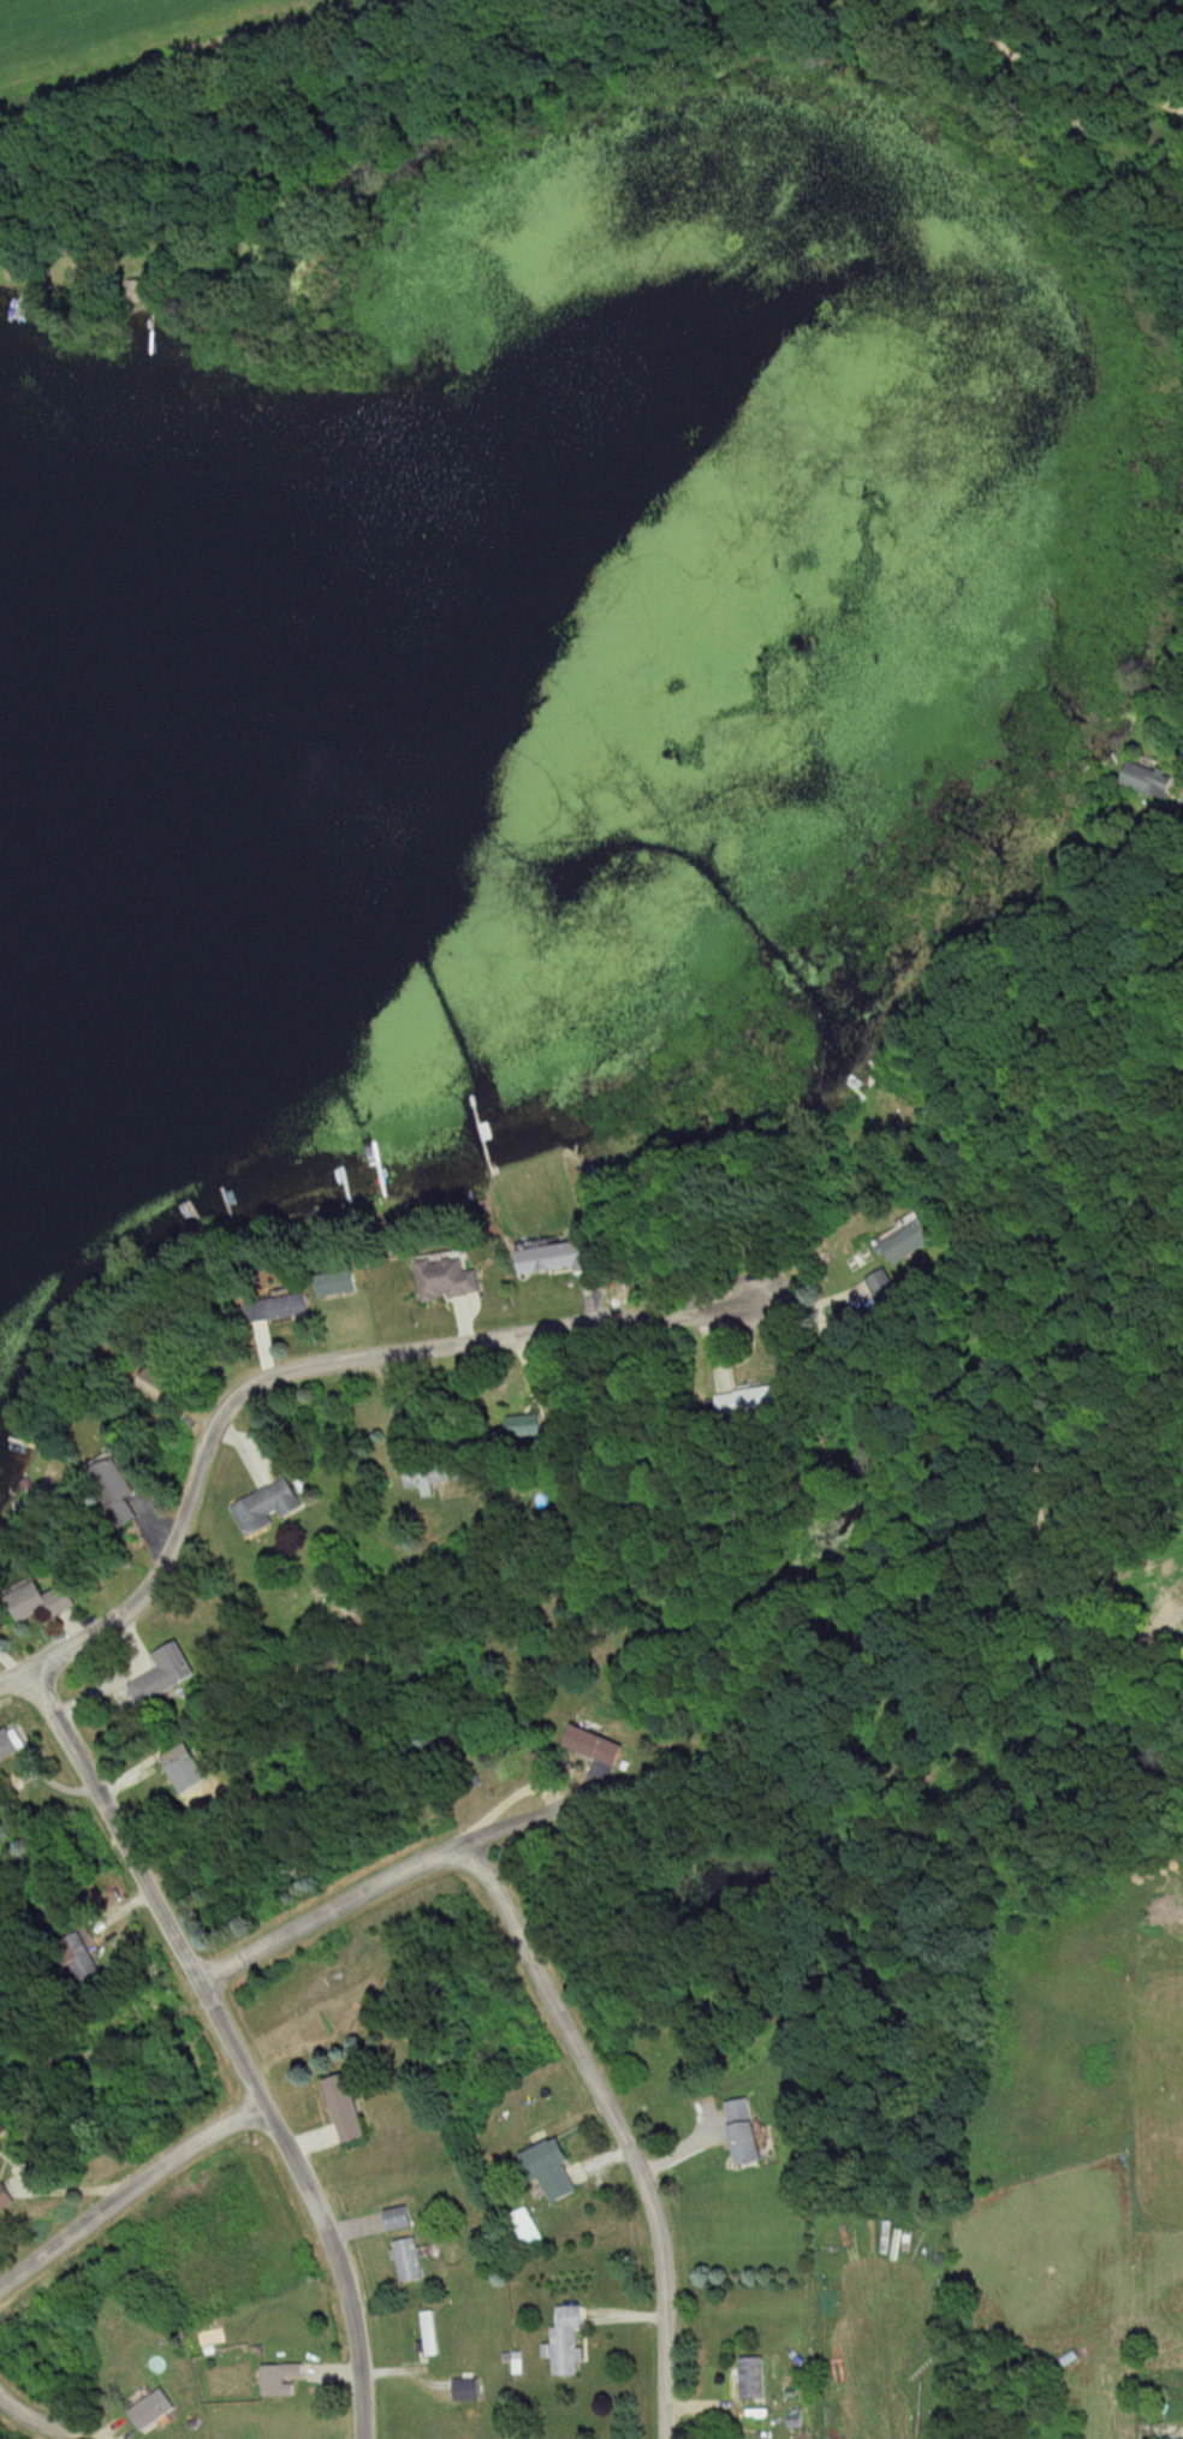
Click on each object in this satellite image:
road: (1035, 63)
road: (221, 102)
building: (142, 292)
building: (1148, 782)
road: (1036, 1032)
building: (909, 1242)
building: (551, 1258)
building: (452, 1278)
building: (341, 1284)
building: (882, 1286)
building: (291, 1306)
road: (1080, 1329)
road: (308, 1371)
building: (161, 1387)
building: (748, 1402)
building: (524, 1426)
building: (439, 1471)
building: (117, 1489)
building: (268, 1507)
building: (44, 1602)
building: (168, 1674)
building: (11, 1746)
building: (599, 1746)
building: (183, 1762)
road: (391, 1889)
building: (81, 1957)
road: (233, 2042)
building: (350, 2111)
building: (4, 2130)
road: (622, 2130)
building: (745, 2132)
building: (552, 2170)
road: (127, 2195)
building: (7, 2198)
building: (402, 2219)
building: (522, 2230)
building: (411, 2261)
building: (433, 2334)
building: (571, 2343)
building: (754, 2379)
building: (283, 2380)
building: (469, 2391)
building: (151, 2413)
road: (52, 2429)

